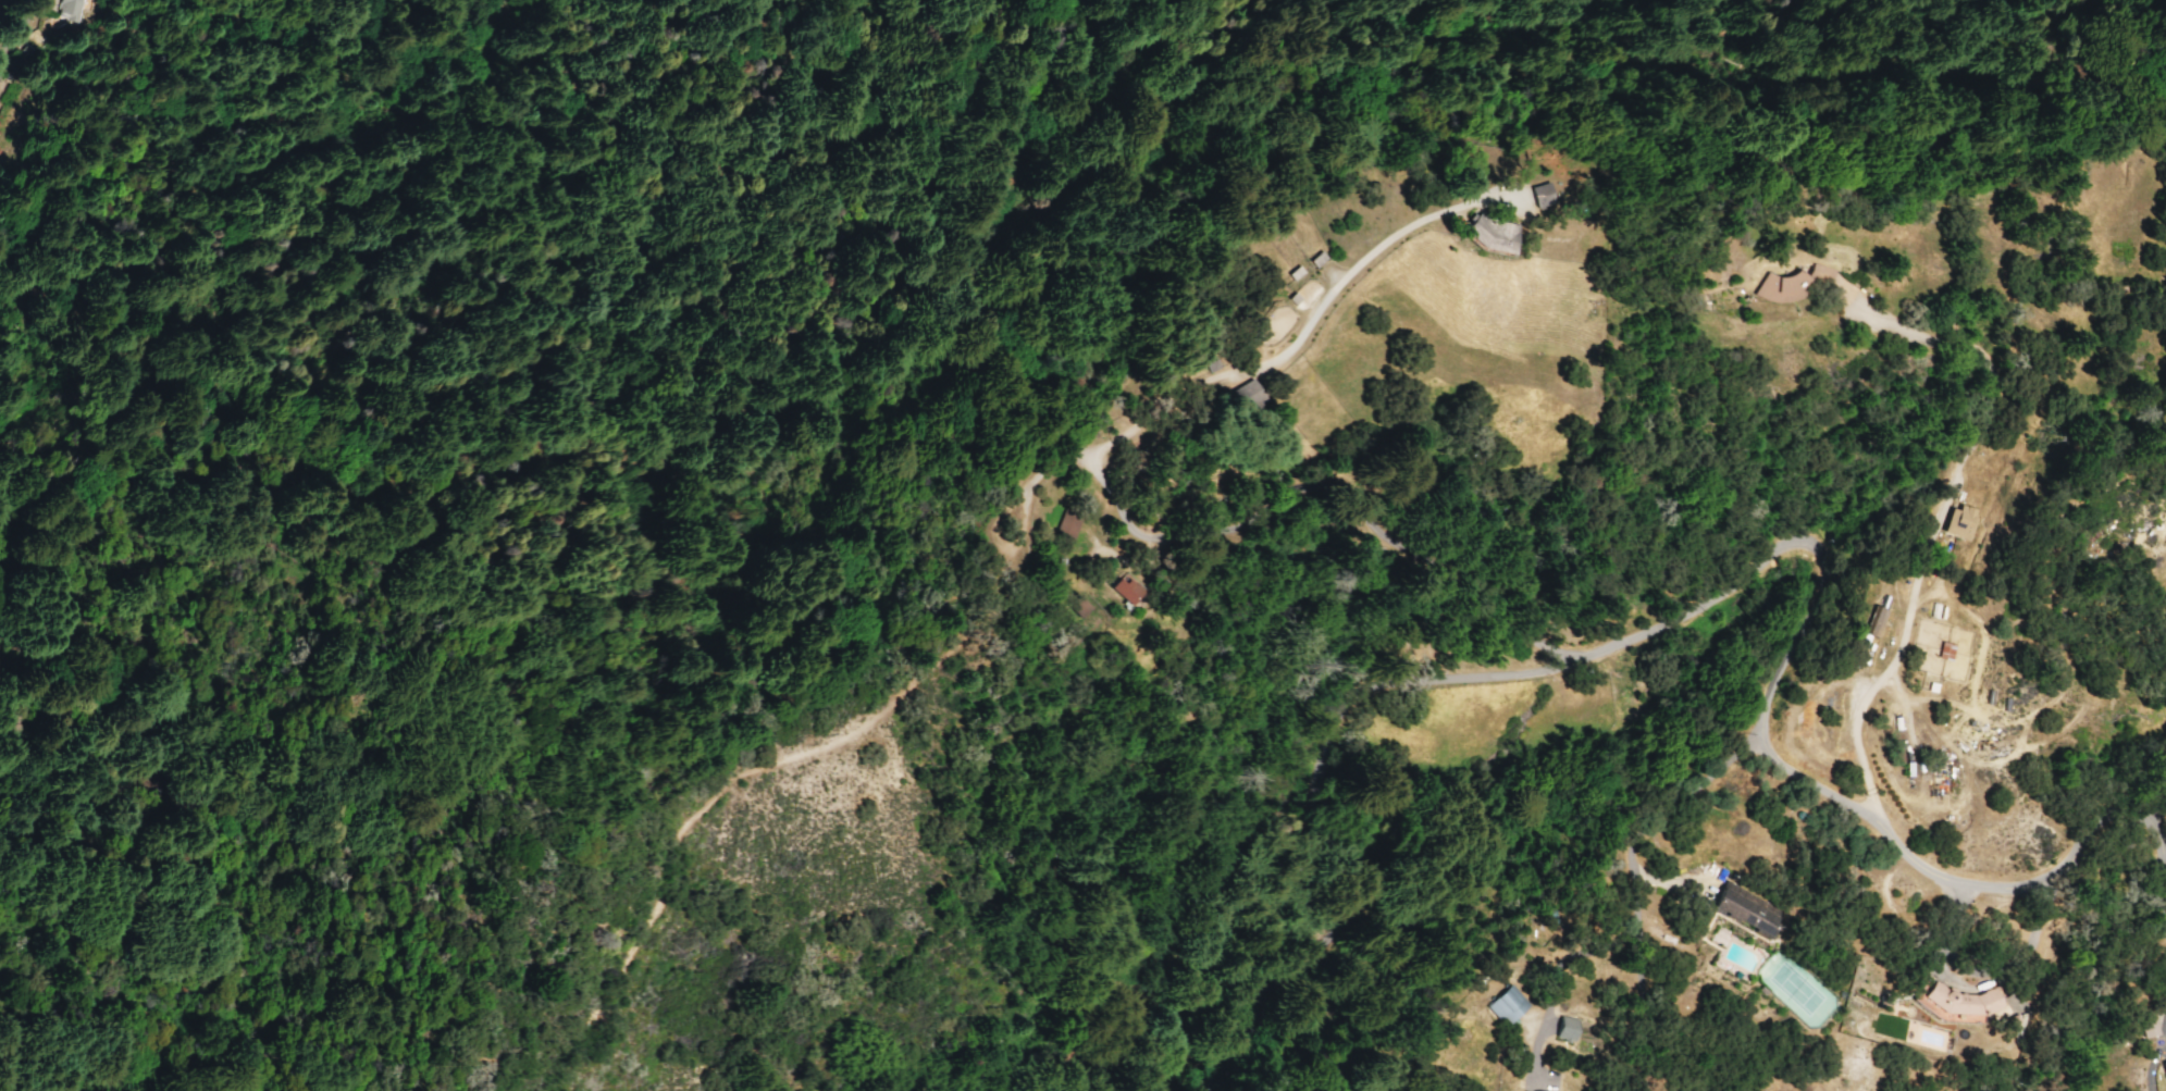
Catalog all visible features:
road: (1317, 9)
building: (67, 10)
road: (476, 17)
road: (15, 26)
road: (212, 121)
building: (1539, 195)
road: (1159, 210)
building: (1488, 233)
building: (1794, 283)
road: (1315, 330)
building: (1246, 393)
road: (1319, 486)
road: (1941, 506)
building: (1959, 522)
building: (1124, 590)
building: (1079, 606)
road: (1817, 611)
building: (1872, 621)
crop: (1947, 710)
road: (785, 745)
road: (2132, 766)
road: (1633, 884)
building: (1745, 909)
road: (1336, 945)
road: (1976, 988)
park: (1798, 992)
building: (1506, 1005)
building: (2146, 1024)
building: (1564, 1028)

